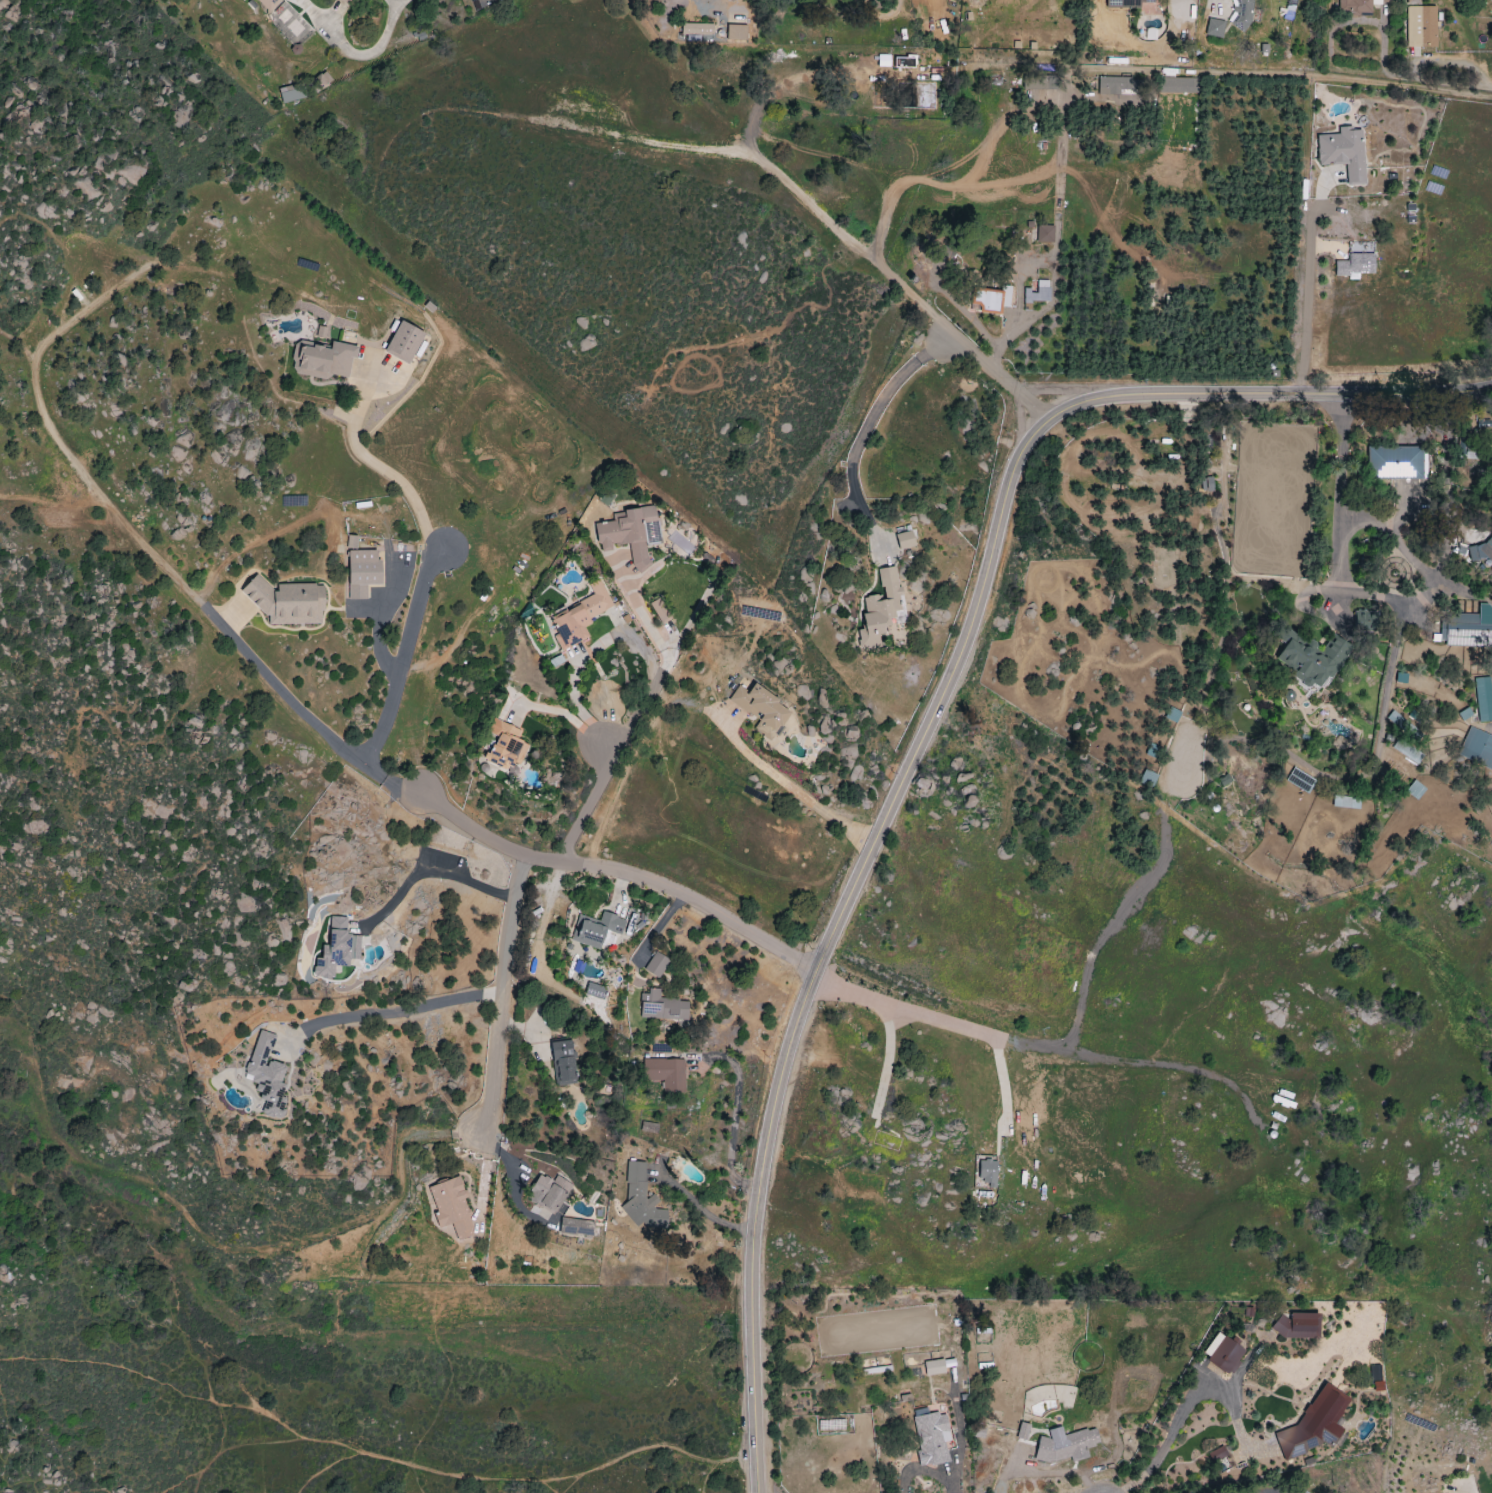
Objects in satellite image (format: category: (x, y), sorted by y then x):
building: (349, 2)
building: (1414, 2)
road: (397, 3)
building: (1125, 3)
building: (268, 4)
building: (1357, 5)
building: (1287, 10)
building: (283, 14)
building: (1240, 14)
building: (1421, 26)
building: (1215, 28)
building: (698, 29)
building: (737, 33)
road: (352, 51)
road: (1225, 77)
building: (320, 81)
building: (1118, 85)
building: (1178, 85)
building: (293, 93)
building: (1344, 153)
building: (1046, 234)
road: (852, 243)
building: (1356, 266)
building: (1039, 293)
building: (990, 301)
road: (1302, 304)
building: (406, 342)
building: (324, 360)
road: (998, 376)
road: (865, 426)
building: (1395, 462)
road: (374, 466)
building: (1207, 484)
building: (631, 533)
building: (906, 540)
building: (352, 543)
building: (1480, 552)
road: (1412, 560)
building: (364, 573)
road: (1415, 593)
building: (288, 602)
building: (881, 610)
building: (661, 611)
road: (640, 614)
building: (581, 617)
building: (1362, 619)
building: (1467, 629)
road: (1395, 644)
road: (403, 658)
building: (1314, 659)
building: (1484, 698)
building: (764, 710)
road: (300, 717)
road: (571, 718)
road: (922, 733)
building: (507, 747)
building: (1477, 748)
road: (614, 764)
building: (1147, 778)
road: (788, 787)
building: (1416, 790)
road: (434, 869)
building: (597, 930)
building: (338, 949)
building: (658, 965)
building: (665, 1008)
road: (392, 1009)
road: (510, 1013)
road: (1042, 1047)
building: (563, 1063)
building: (666, 1074)
building: (650, 1128)
building: (990, 1173)
building: (550, 1194)
building: (642, 1201)
building: (452, 1207)
road: (700, 1209)
building: (577, 1228)
building: (1298, 1325)
building: (1224, 1352)
building: (935, 1367)
road: (240, 1416)
road: (1174, 1424)
building: (1315, 1424)
building: (1024, 1431)
building: (932, 1438)
building: (1067, 1444)
building: (1218, 1454)
road: (646, 1458)
road: (1049, 1475)
road: (1484, 1488)
building: (1302, 1491)

